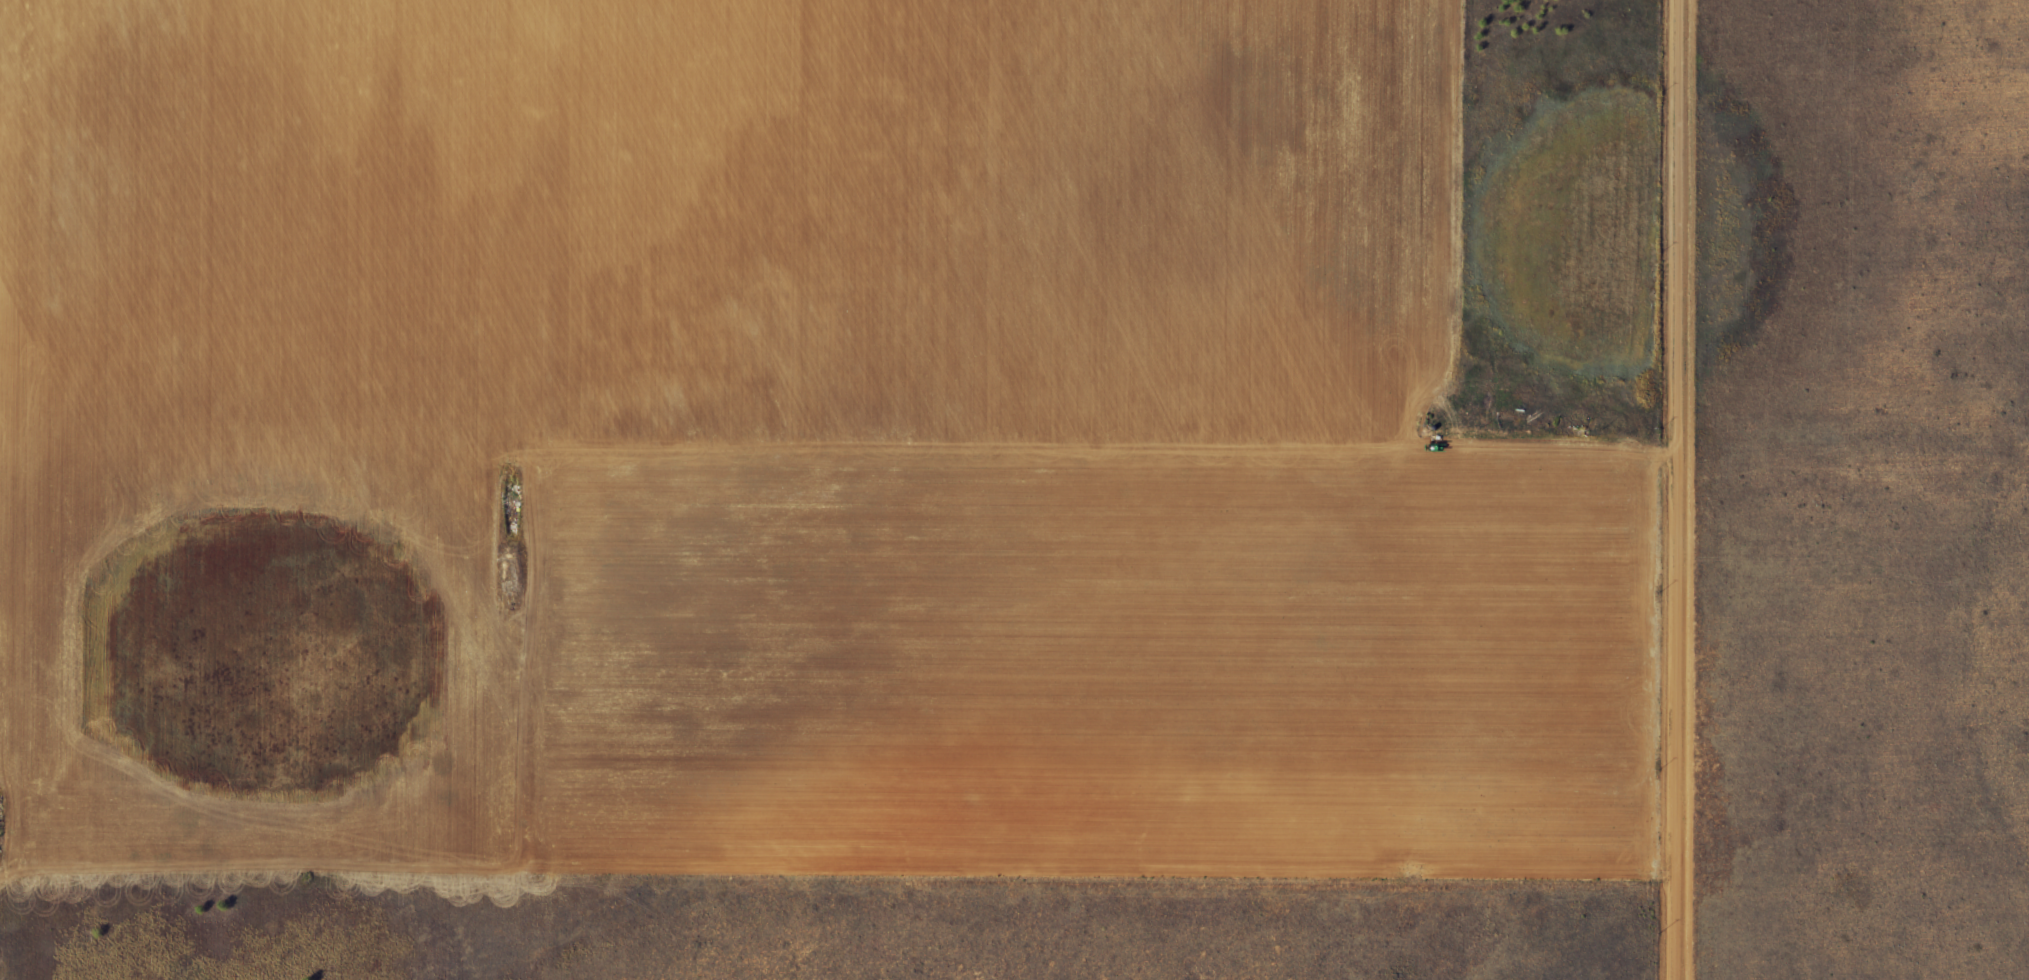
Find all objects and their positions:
road: (1696, 490)

